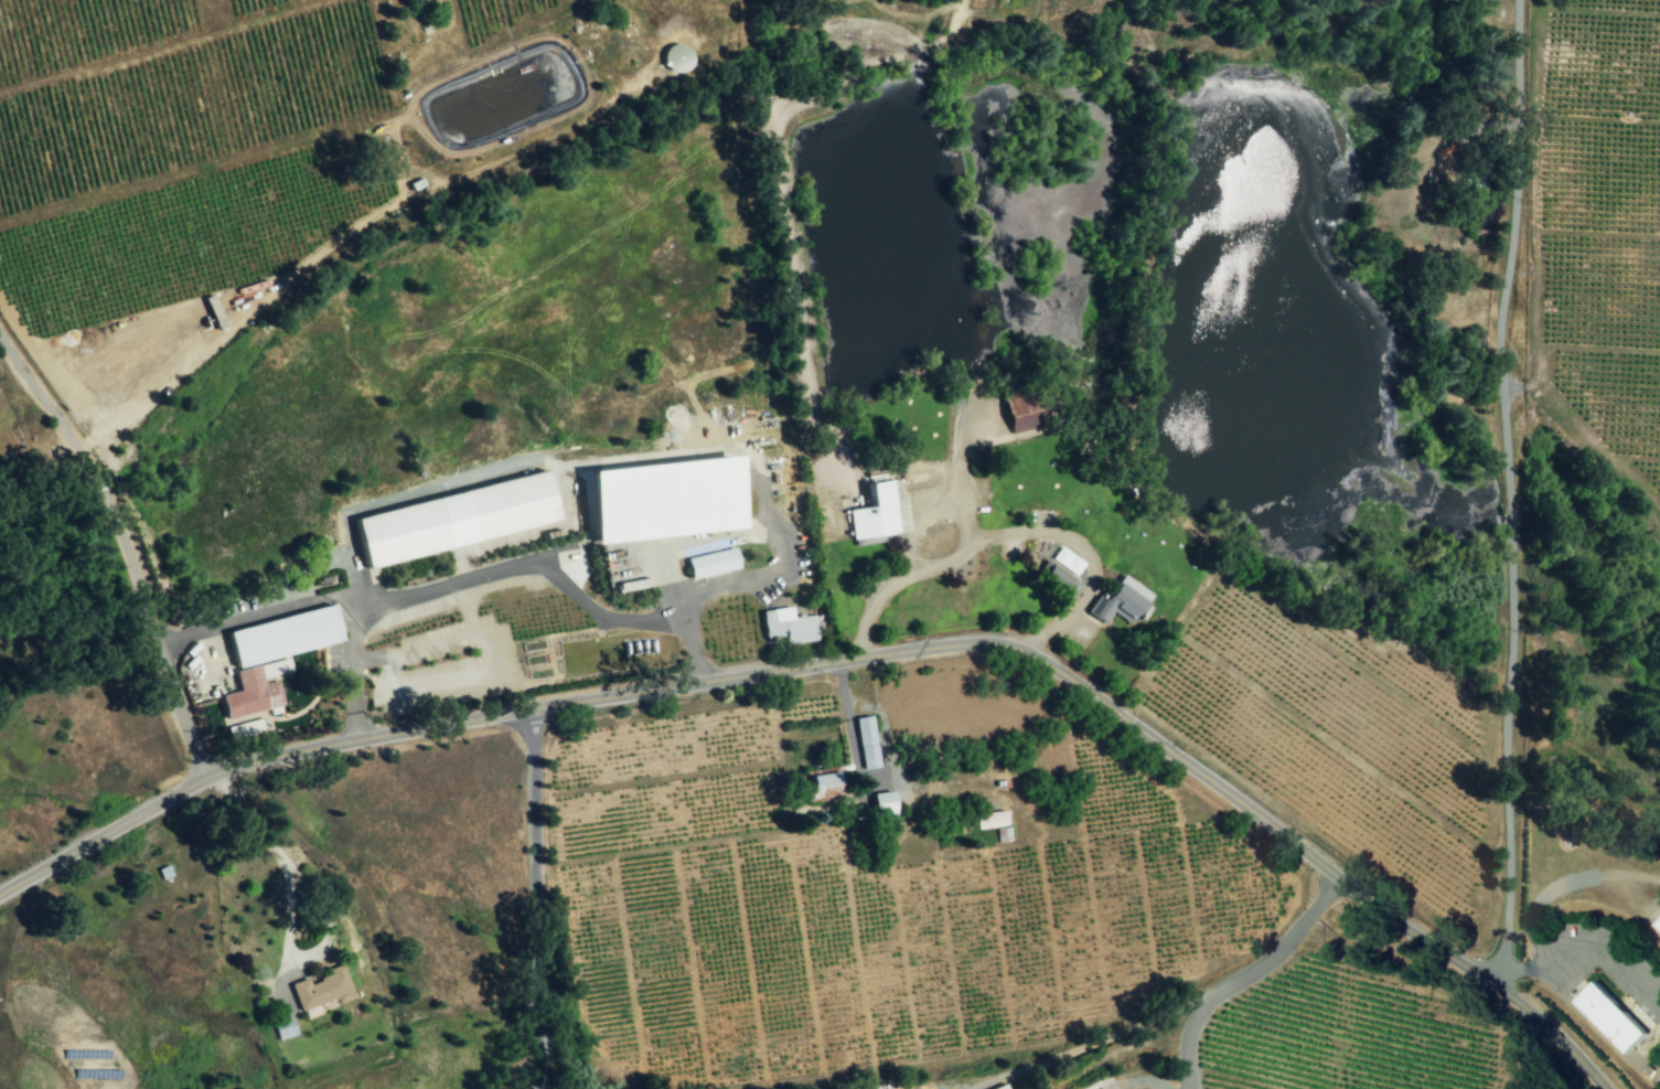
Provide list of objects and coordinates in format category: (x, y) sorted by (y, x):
building: (1022, 409)
road: (1507, 487)
building: (665, 498)
road: (396, 501)
building: (874, 513)
building: (454, 519)
road: (125, 549)
building: (711, 563)
road: (780, 572)
building: (1062, 573)
road: (459, 577)
building: (1120, 601)
road: (465, 608)
building: (788, 626)
building: (282, 636)
road: (850, 656)
road: (325, 665)
building: (275, 668)
road: (350, 668)
road: (361, 669)
road: (474, 680)
building: (250, 694)
road: (279, 698)
road: (235, 720)
road: (849, 722)
building: (244, 729)
building: (866, 743)
building: (822, 783)
building: (883, 808)
building: (989, 820)
road: (278, 850)
road: (1571, 884)
road: (536, 898)
building: (1657, 926)
road: (1582, 953)
road: (1250, 970)
building: (319, 991)
building: (1610, 1017)
building: (283, 1031)
road: (1100, 1042)
building: (1093, 1086)
building: (1000, 1087)
building: (1104, 1088)

